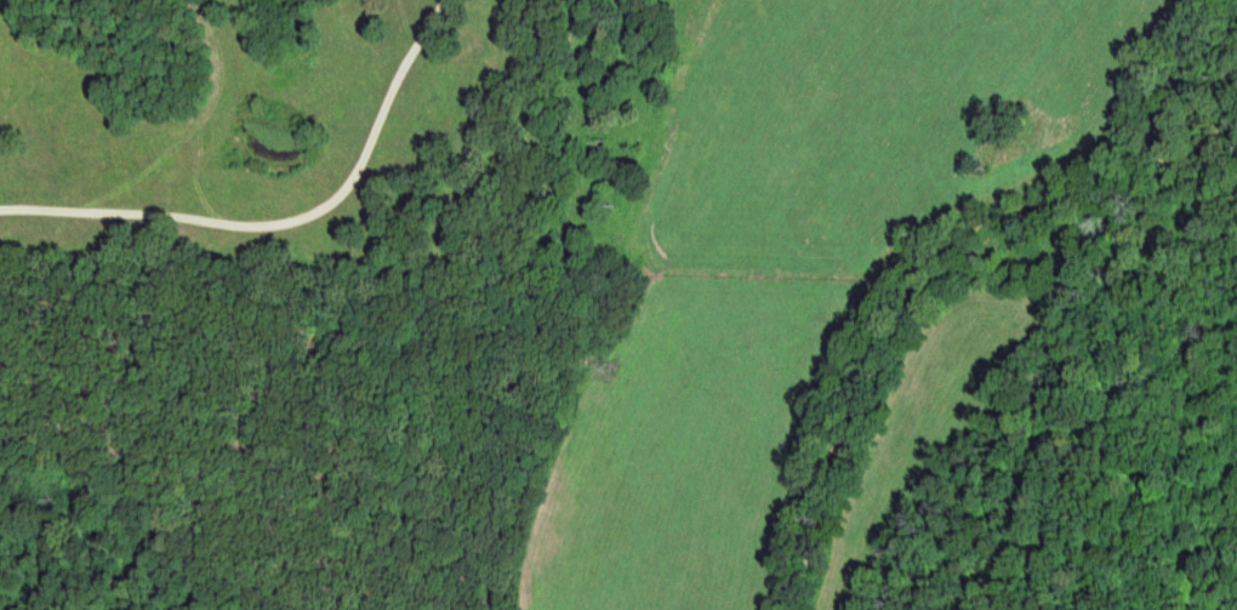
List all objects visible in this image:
road: (286, 222)

